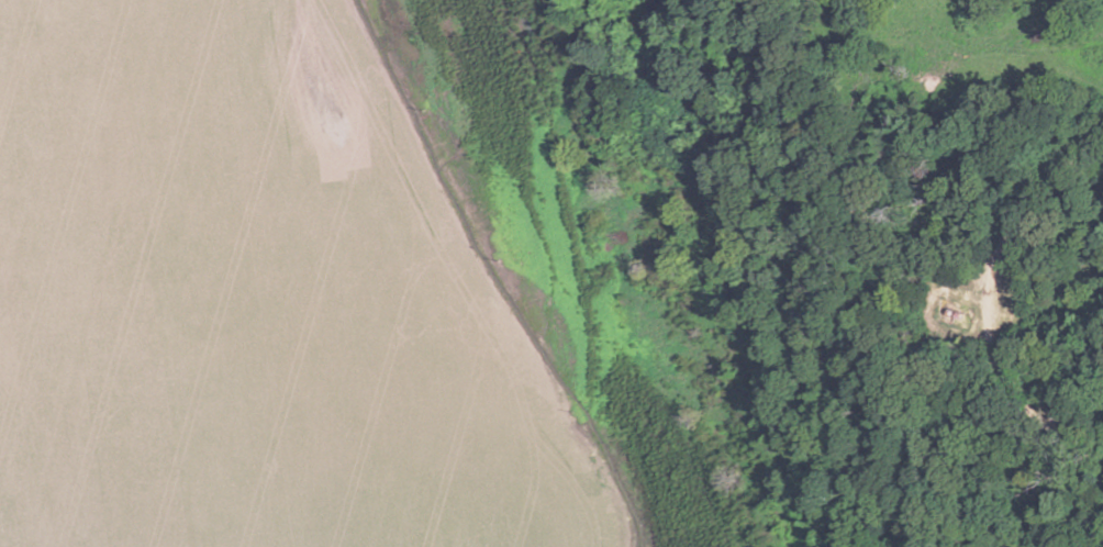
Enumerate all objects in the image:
road: (1006, 241)

